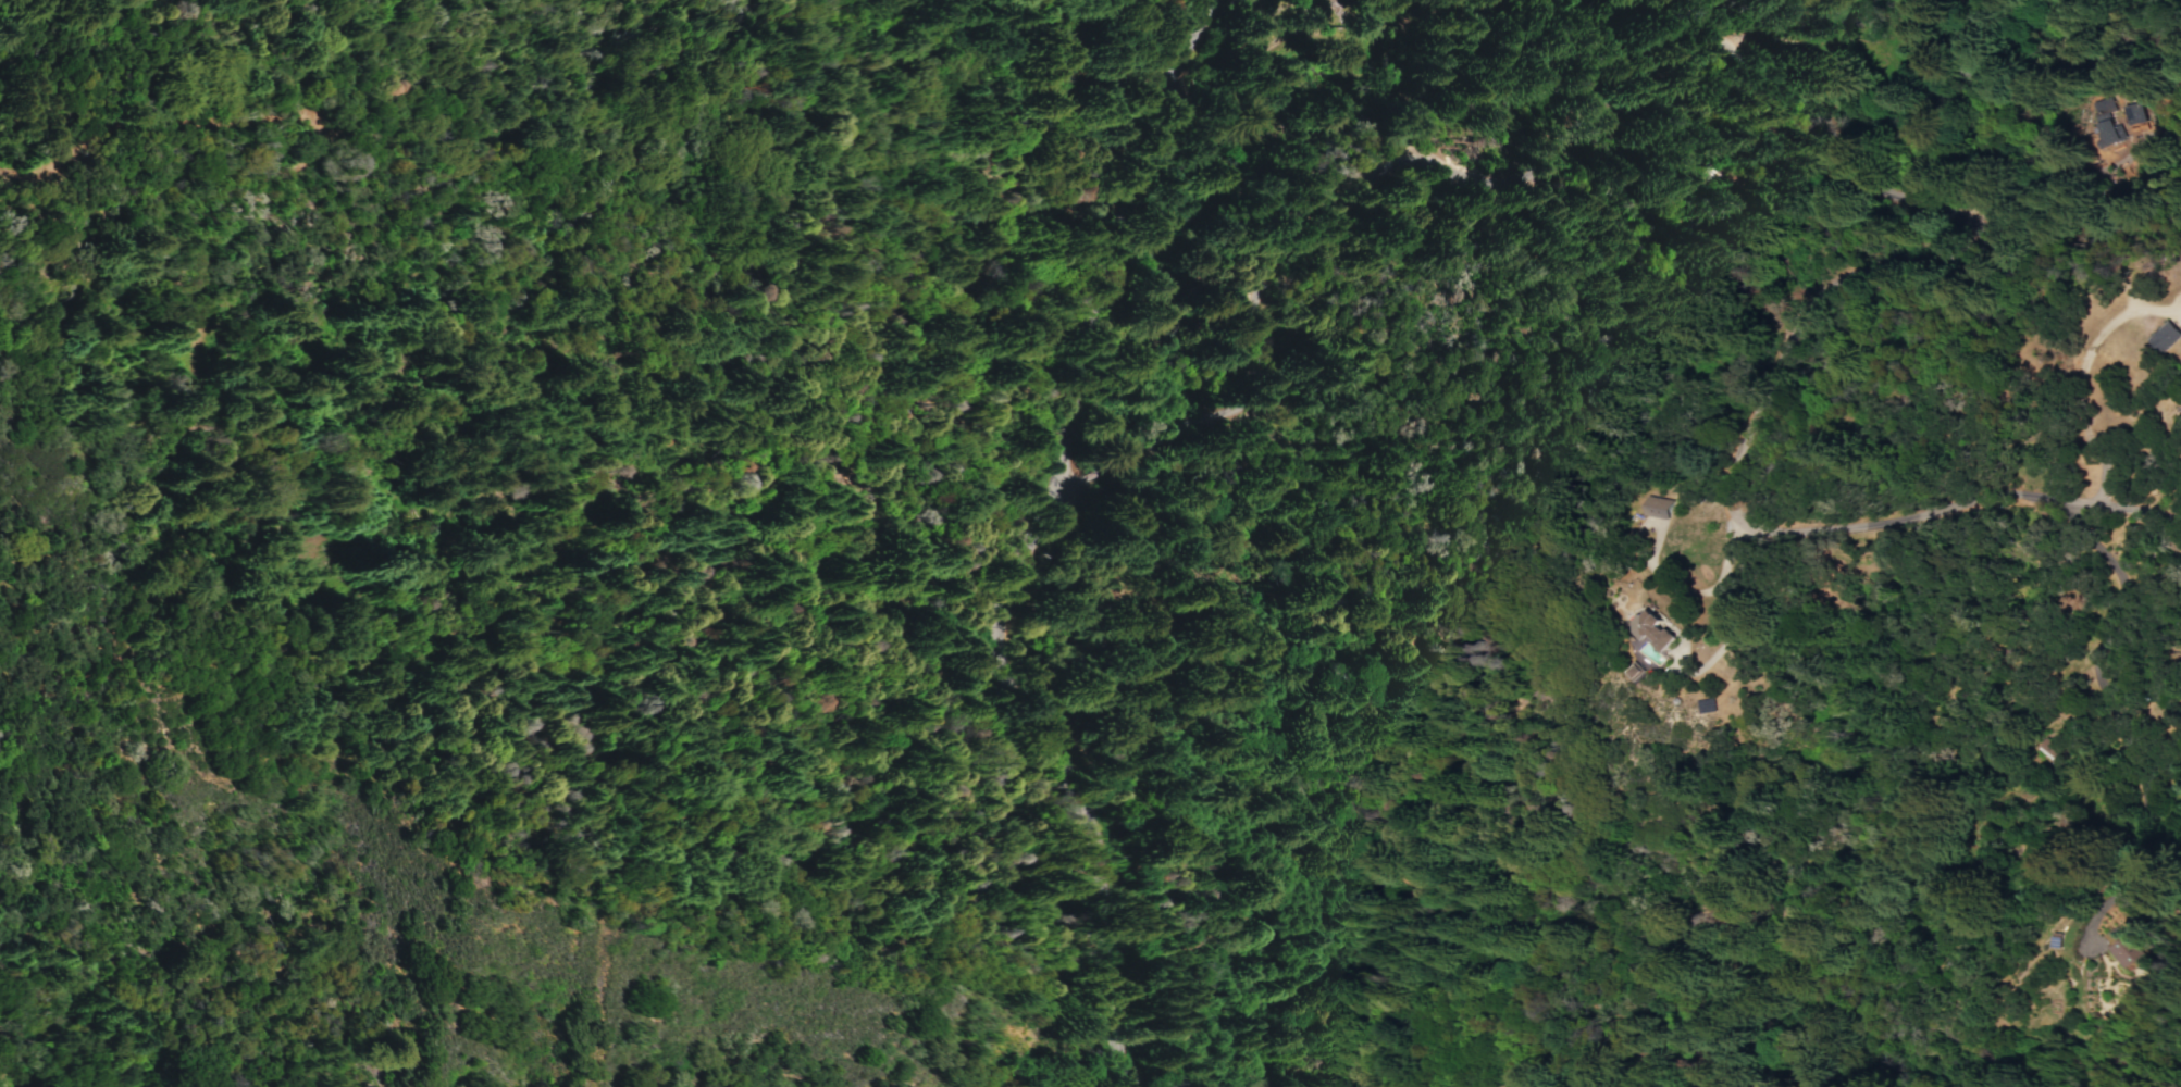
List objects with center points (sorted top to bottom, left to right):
building: (2119, 115)
building: (2089, 124)
road: (1175, 137)
road: (2006, 210)
road: (1878, 240)
road: (1136, 299)
building: (2164, 338)
road: (2081, 368)
road: (1211, 441)
road: (1126, 464)
building: (1655, 507)
road: (1668, 525)
crop: (2119, 615)
road: (2107, 620)
building: (1651, 629)
road: (1055, 702)
building: (2037, 748)
road: (1751, 750)
road: (1711, 789)
building: (2123, 950)

